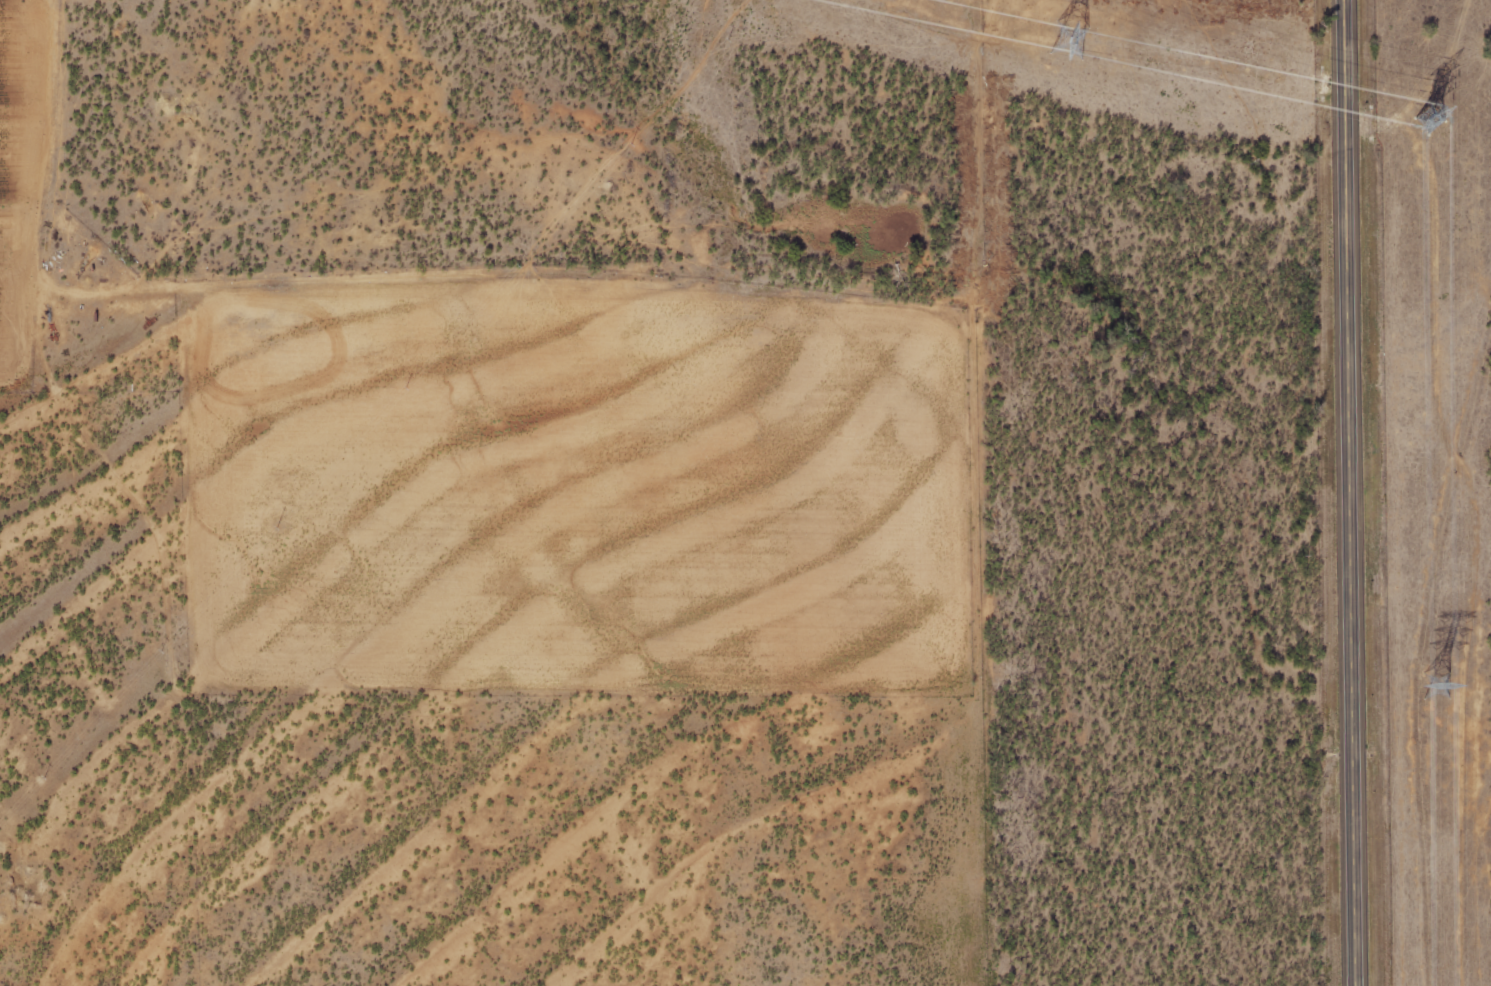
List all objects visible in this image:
power tower: (1062, 41)
power tower: (1428, 119)
road: (1352, 493)
power tower: (1431, 685)

